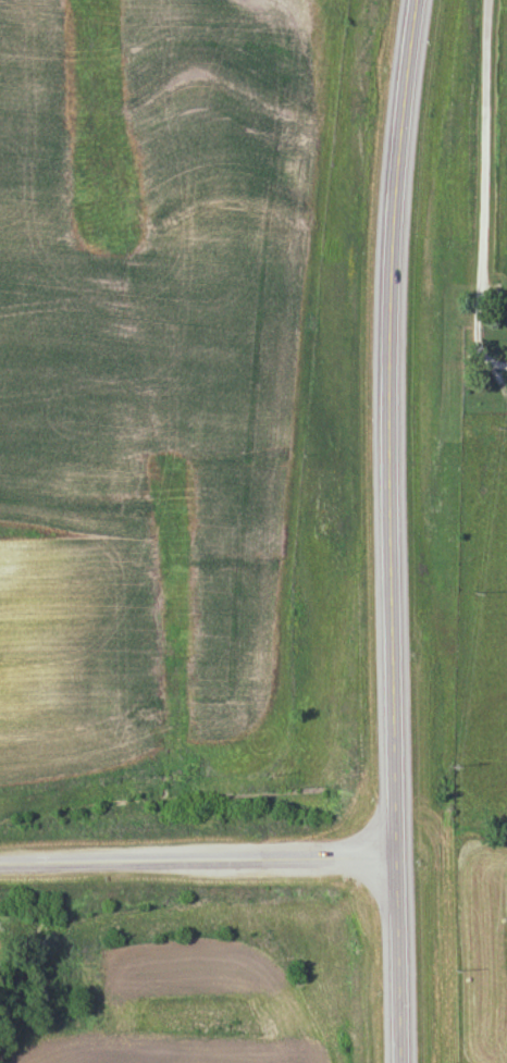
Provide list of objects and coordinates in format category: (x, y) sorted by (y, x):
road: (482, 193)
road: (388, 530)
road: (197, 869)

